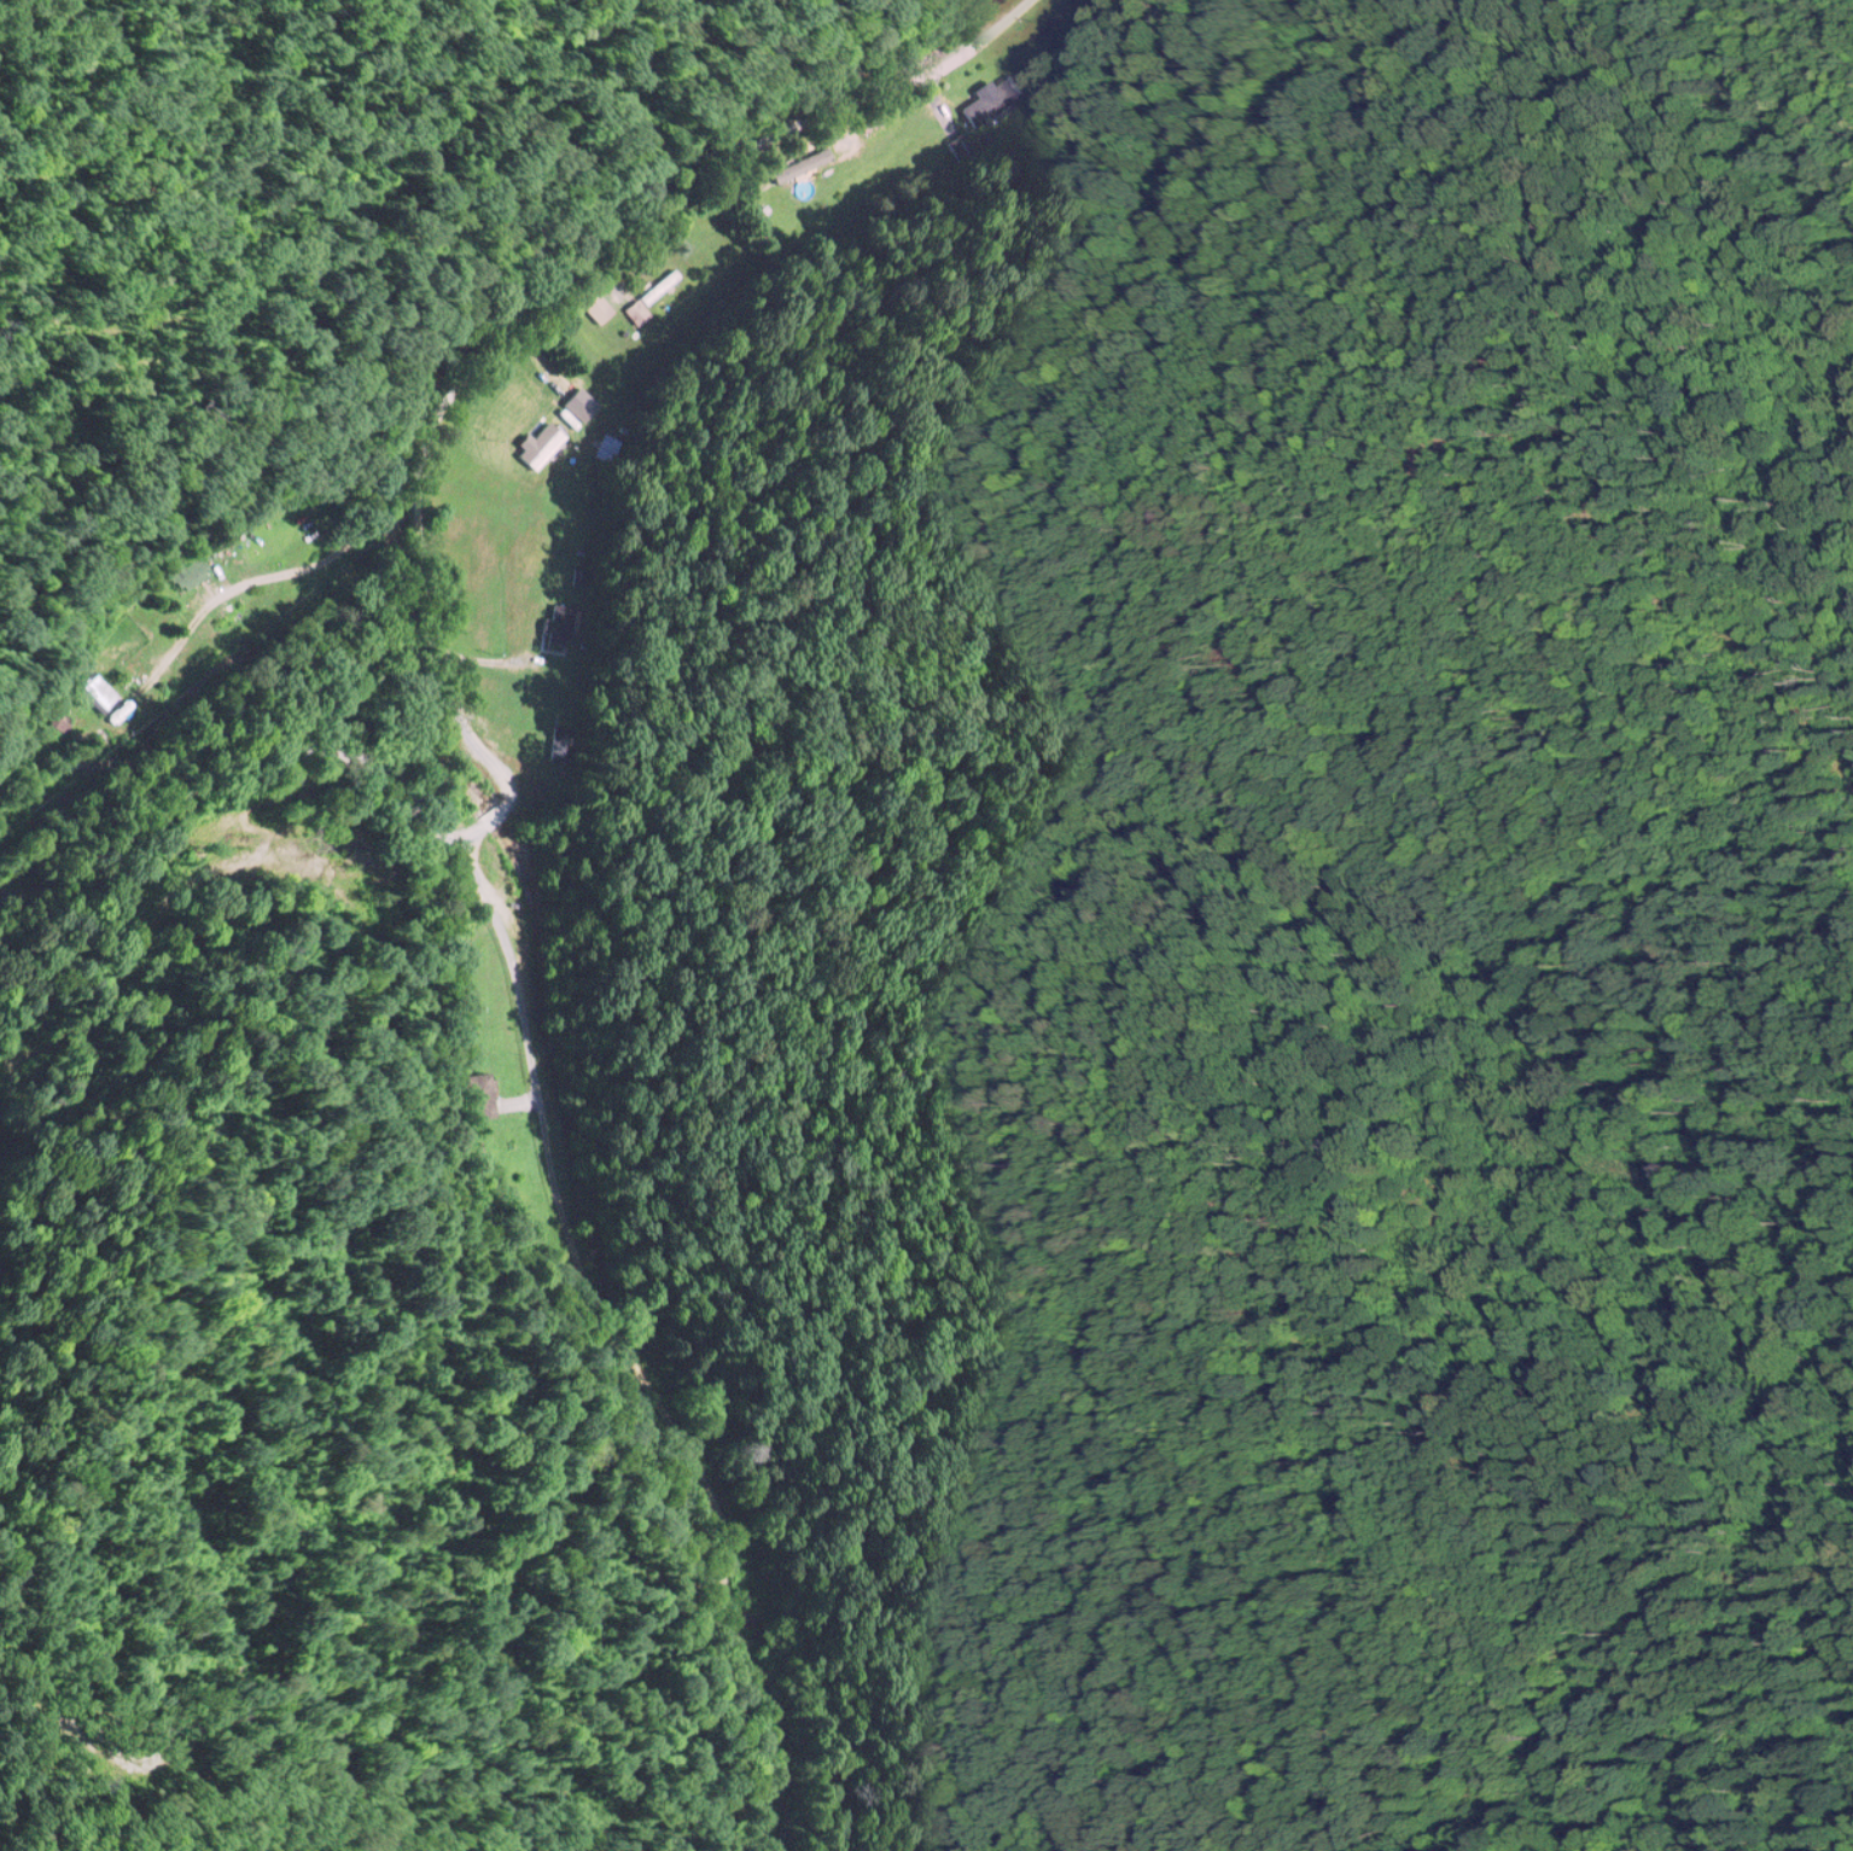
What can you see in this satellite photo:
road: (676, 186)
road: (167, 679)
road: (524, 977)
road: (753, 1763)

